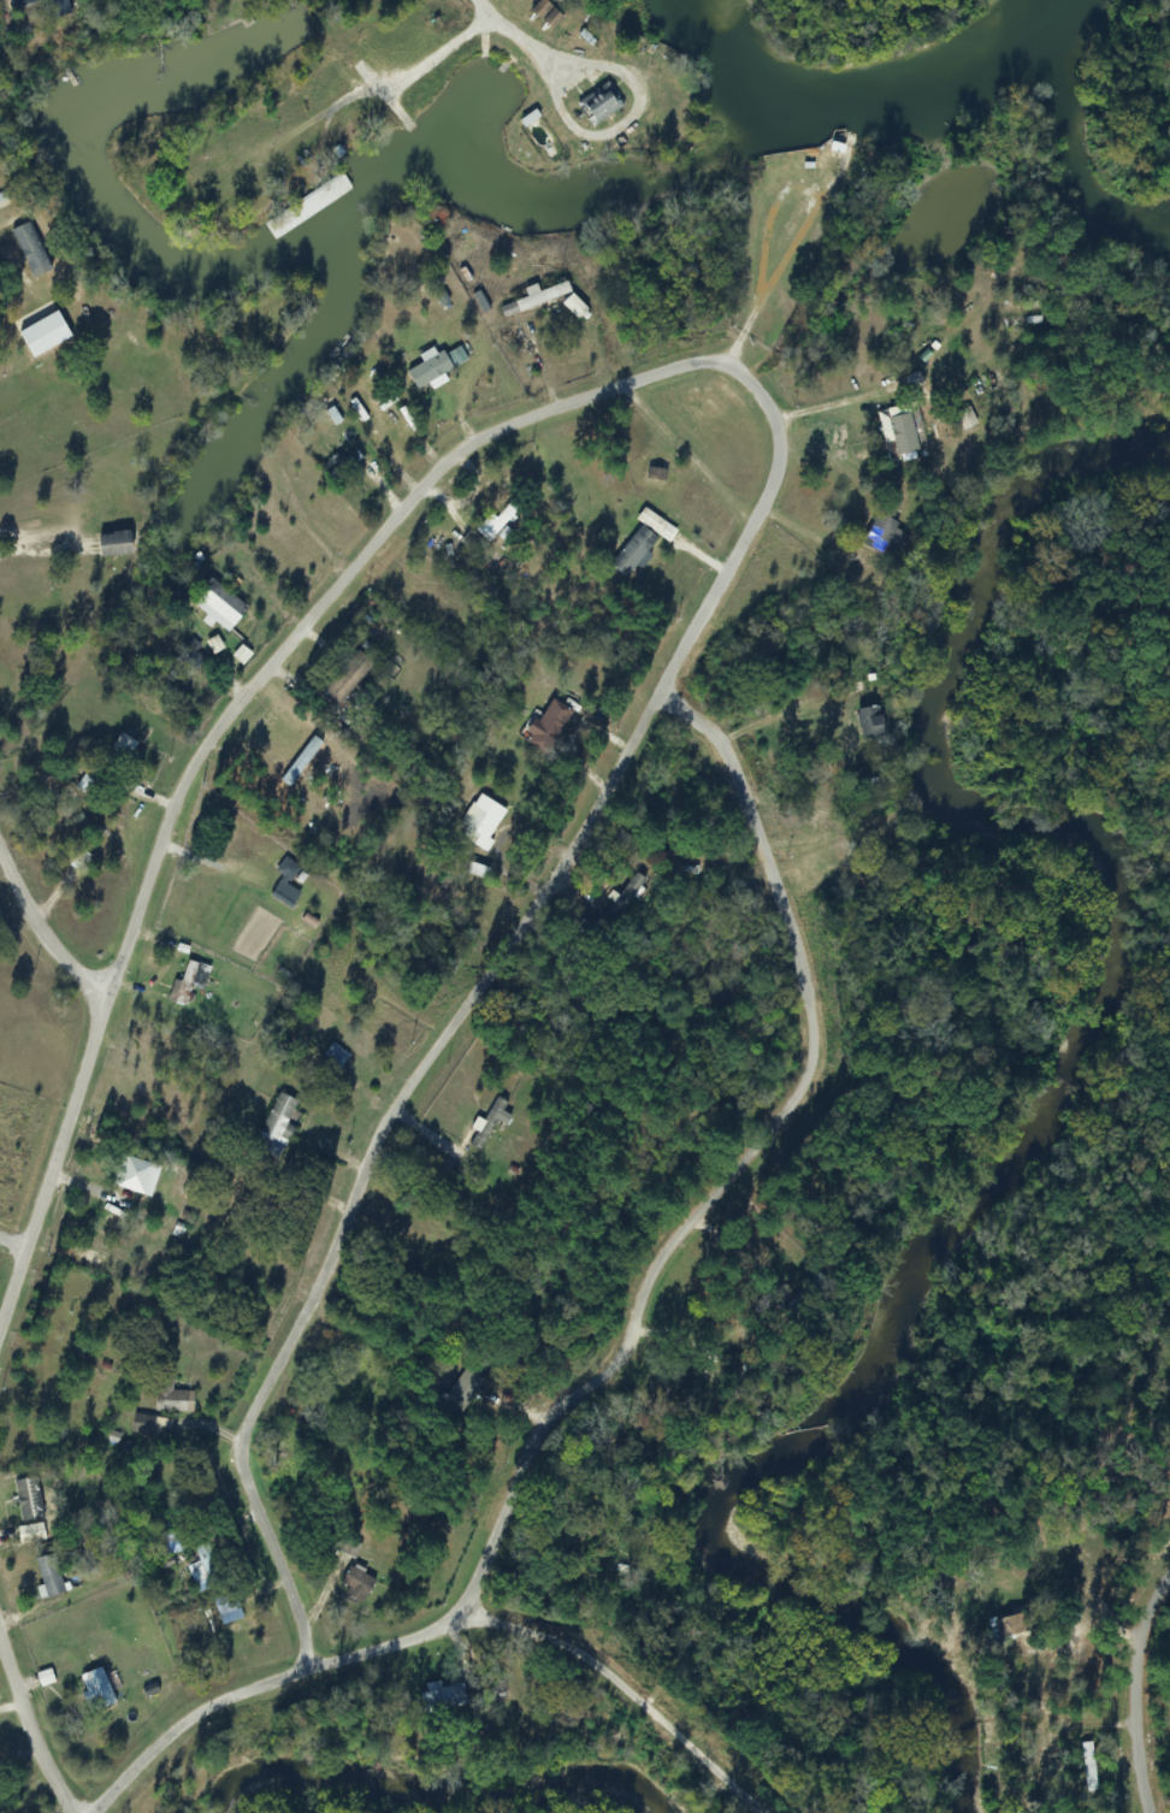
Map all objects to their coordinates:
building: (546, 13)
road: (531, 39)
building: (598, 105)
building: (534, 297)
building: (46, 335)
building: (426, 379)
building: (491, 525)
building: (882, 535)
building: (114, 544)
building: (632, 550)
road: (371, 567)
building: (218, 604)
building: (347, 678)
building: (853, 687)
building: (873, 720)
building: (549, 726)
building: (120, 748)
building: (480, 821)
building: (284, 885)
road: (45, 926)
building: (187, 981)
road: (454, 1033)
building: (333, 1056)
building: (278, 1118)
building: (486, 1123)
road: (757, 1168)
building: (132, 1175)
road: (55, 1187)
road: (18, 1246)
building: (170, 1396)
building: (28, 1499)
building: (170, 1541)
building: (203, 1569)
building: (48, 1575)
building: (355, 1583)
building: (225, 1608)
building: (1007, 1628)
building: (690, 1641)
road: (574, 1646)
building: (95, 1689)
building: (443, 1697)
road: (1144, 1697)
road: (32, 1715)
road: (205, 1724)

